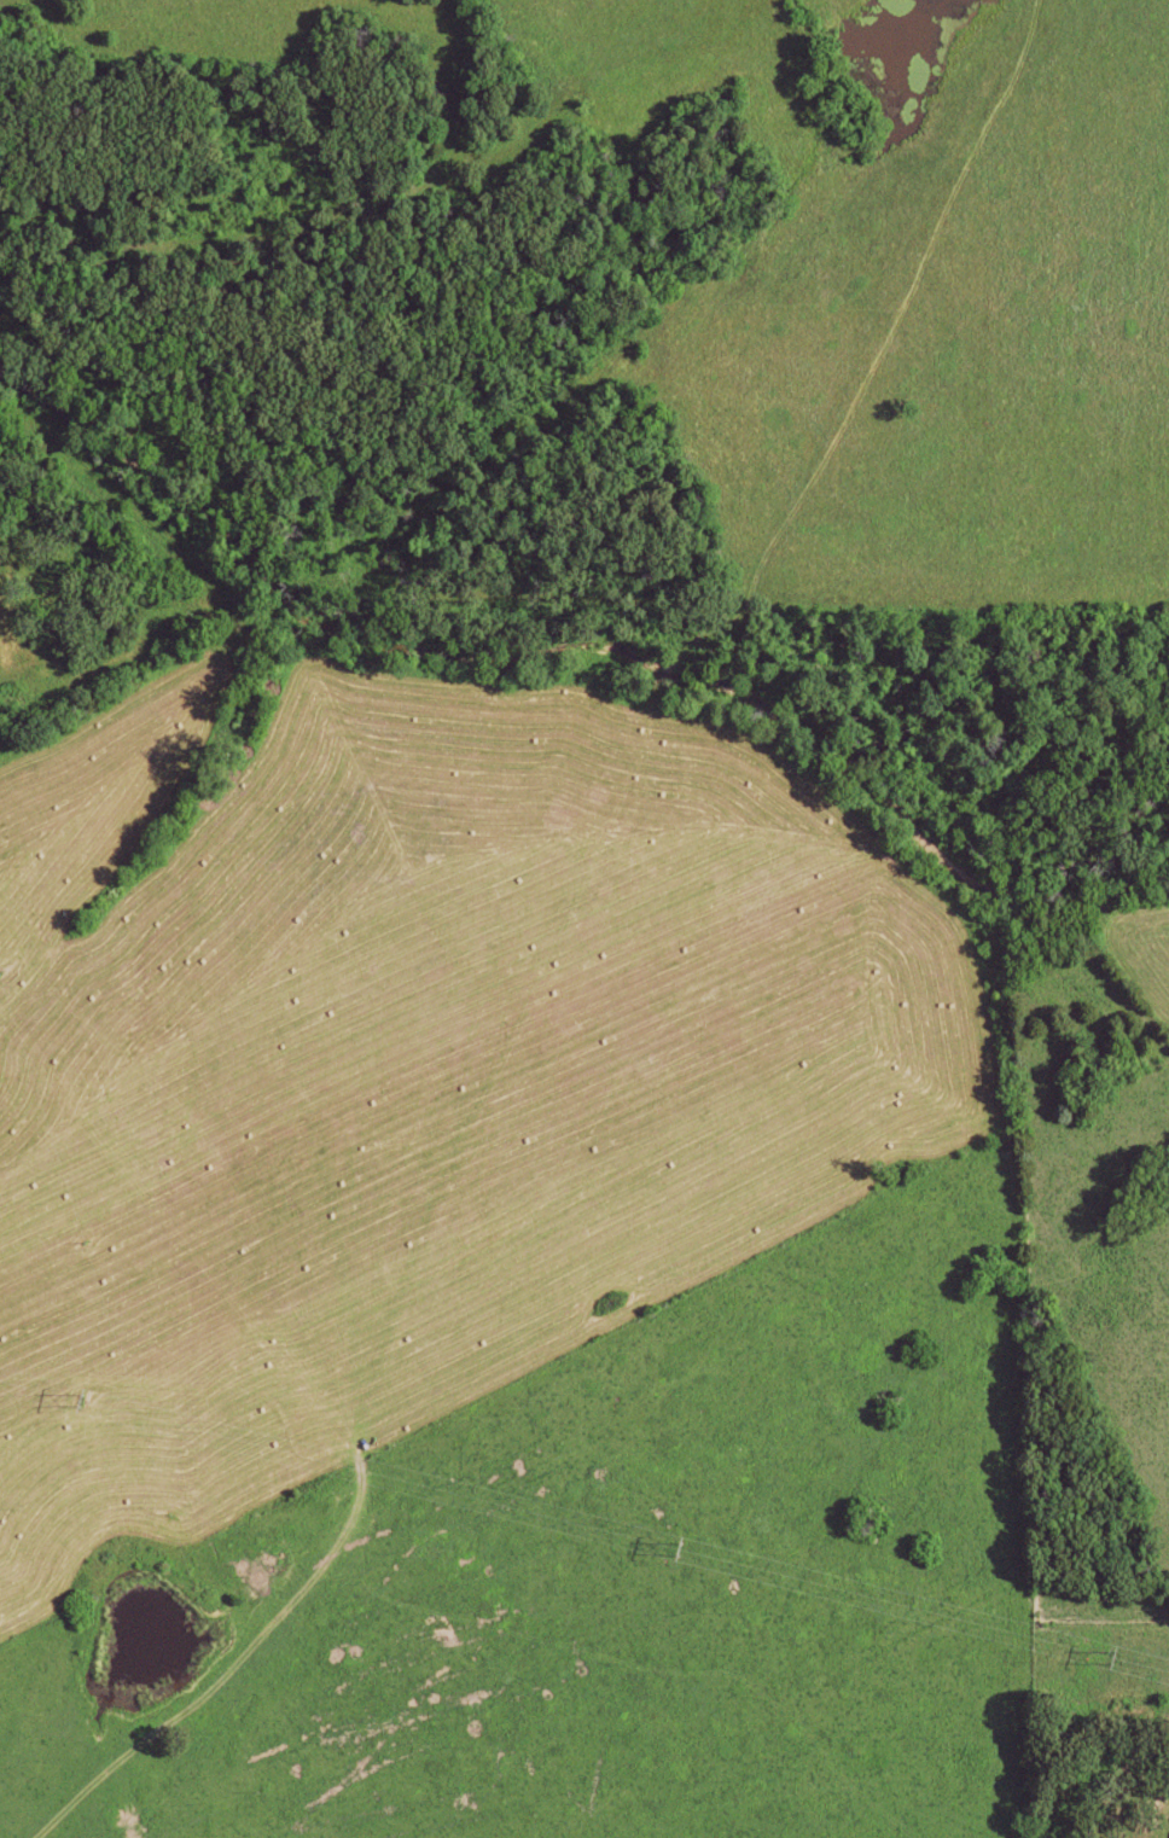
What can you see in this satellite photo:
power tower: (77, 1402)
power tower: (681, 1553)
power tower: (1115, 1660)

